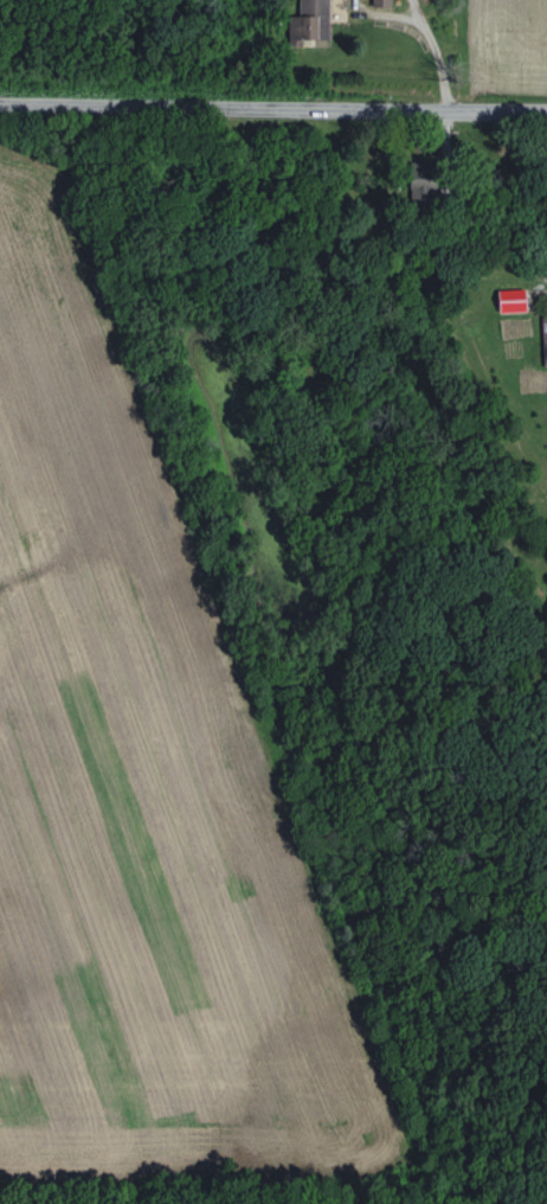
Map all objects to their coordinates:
building: (381, 4)
building: (308, 23)
road: (430, 51)
road: (272, 105)
building: (510, 299)
building: (543, 335)

